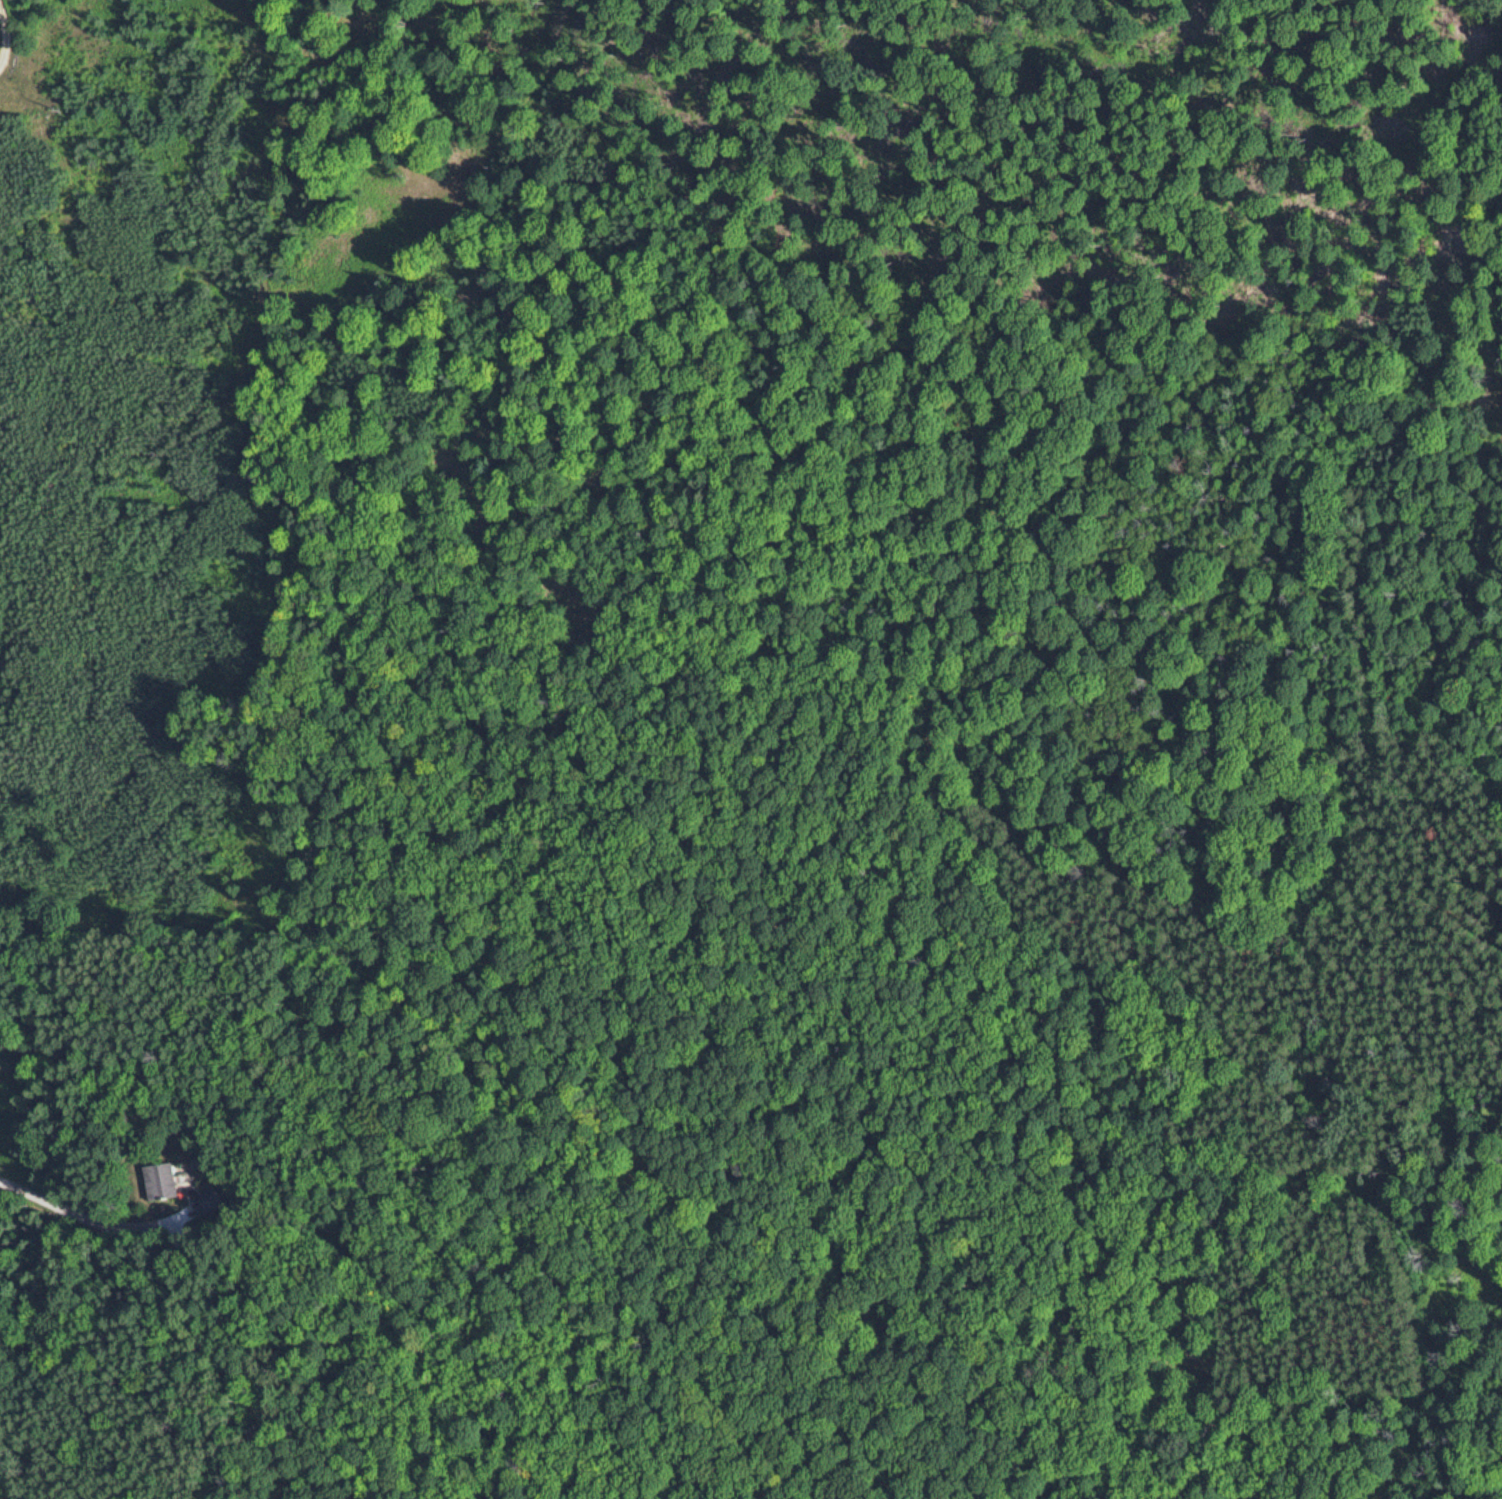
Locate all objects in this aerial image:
road: (8, 34)
building: (166, 1180)
building: (214, 1199)

